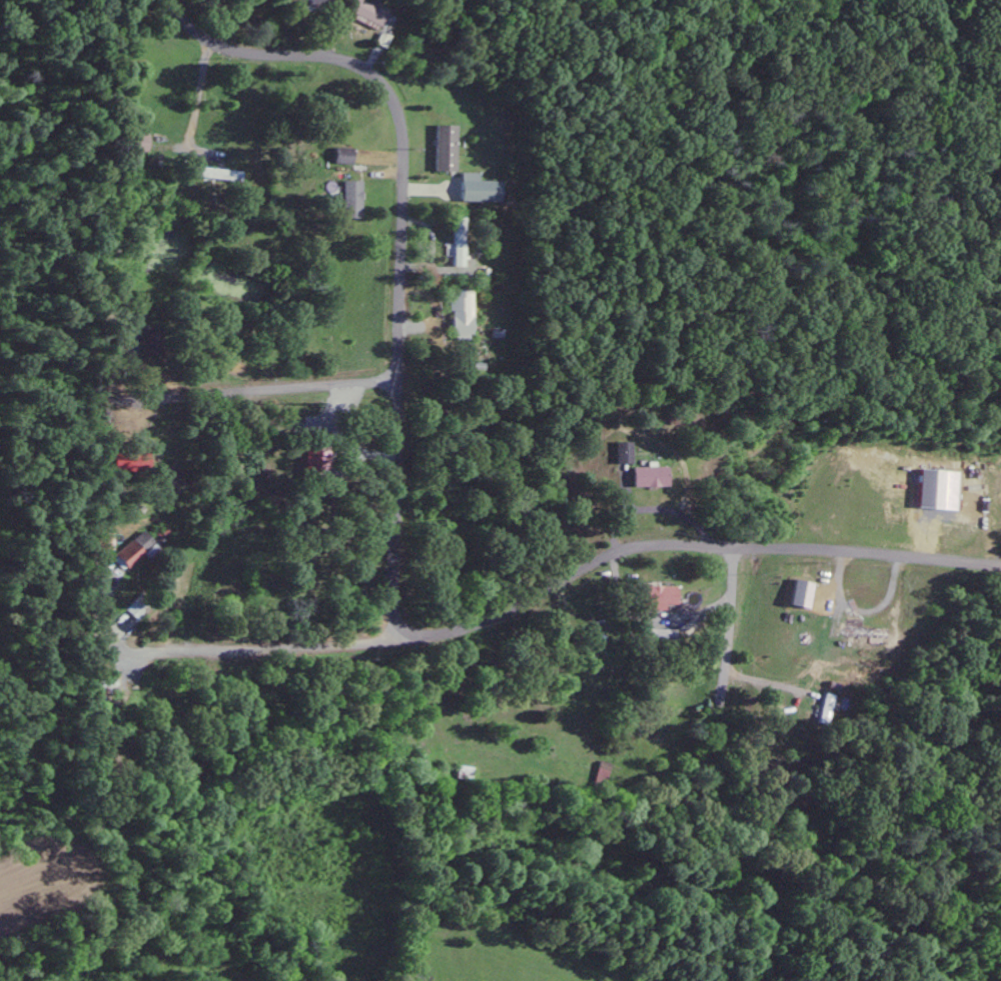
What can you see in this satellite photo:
building: (307, 4)
building: (367, 15)
building: (139, 142)
building: (443, 148)
building: (341, 156)
building: (216, 175)
building: (477, 189)
building: (350, 199)
building: (457, 242)
building: (459, 315)
road: (629, 327)
building: (150, 342)
building: (125, 343)
road: (260, 389)
building: (622, 453)
building: (126, 461)
building: (316, 462)
building: (648, 477)
building: (159, 534)
building: (102, 541)
road: (394, 545)
building: (132, 550)
building: (800, 594)
building: (657, 597)
road: (731, 624)
building: (863, 631)
building: (660, 637)
road: (266, 649)
building: (101, 688)
building: (825, 709)
building: (601, 774)

